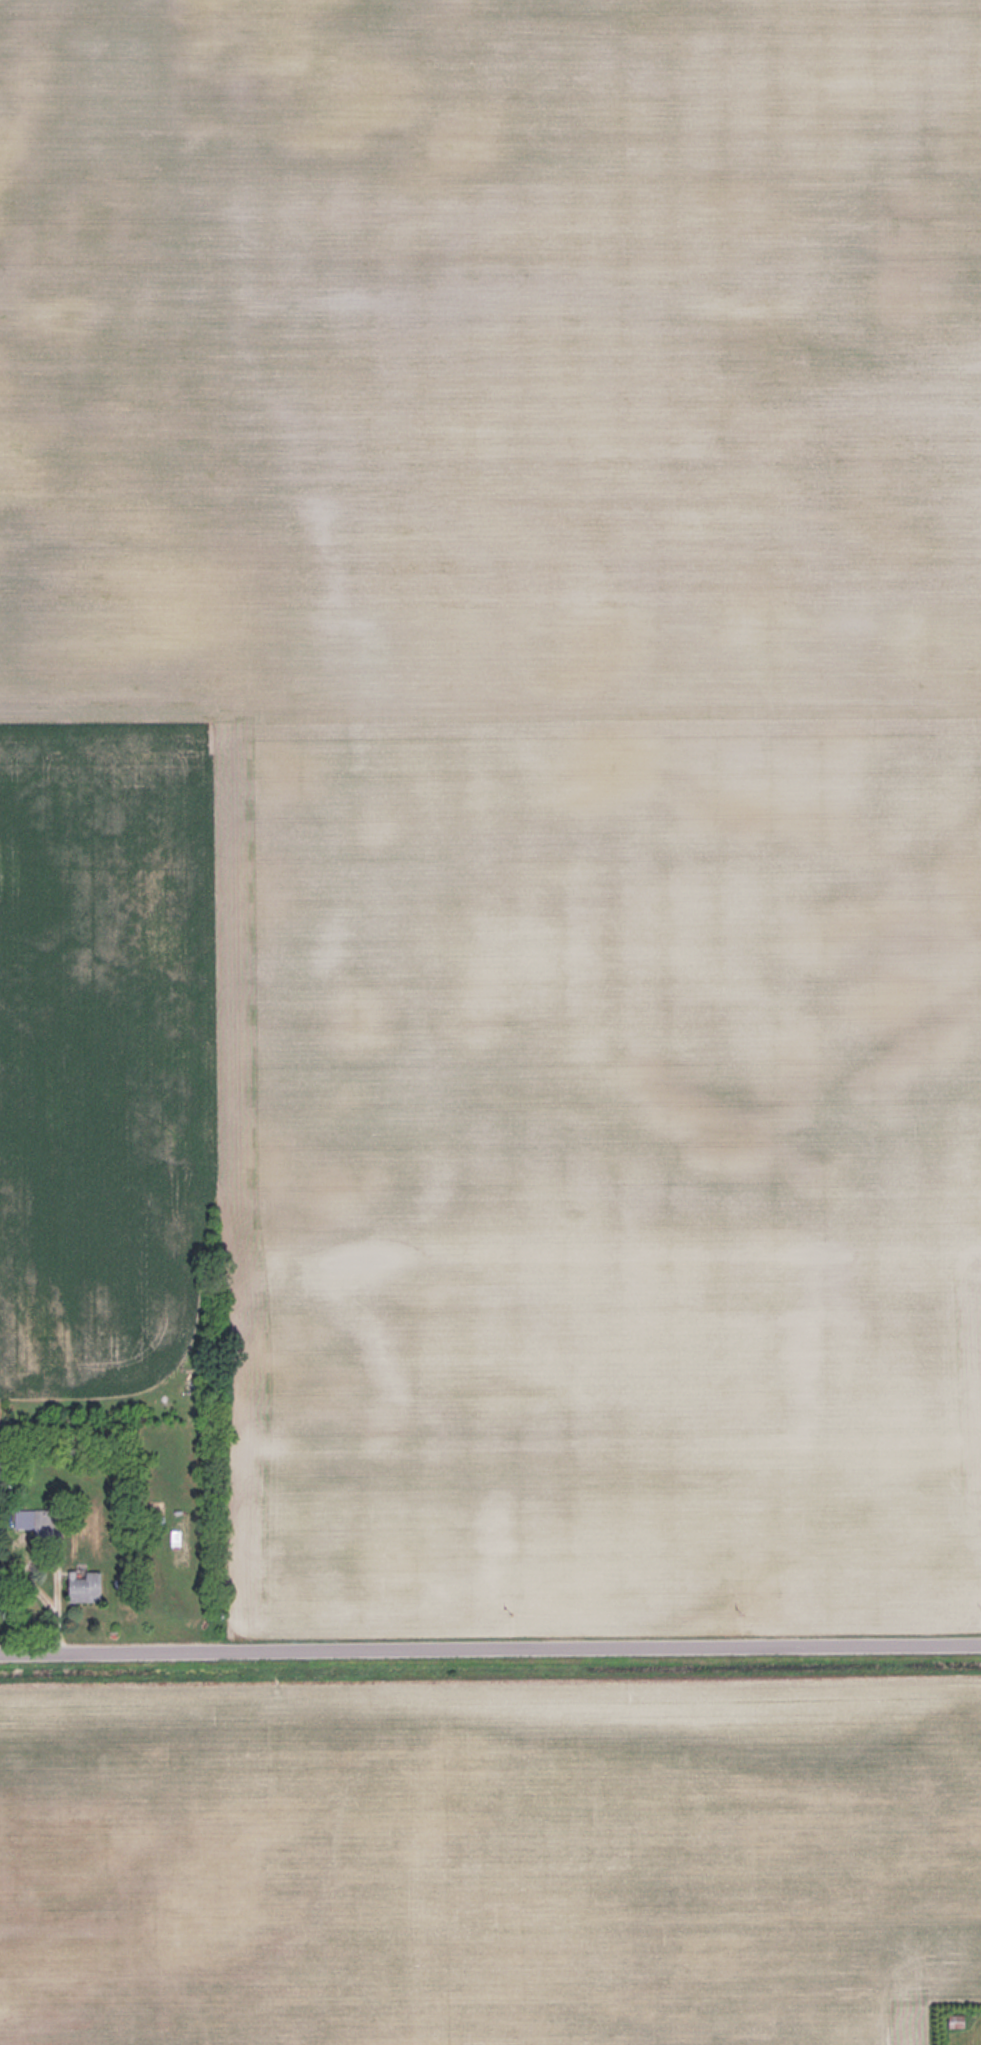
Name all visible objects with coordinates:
building: (49, 1524)
building: (86, 1585)
road: (490, 1649)
building: (957, 2020)

